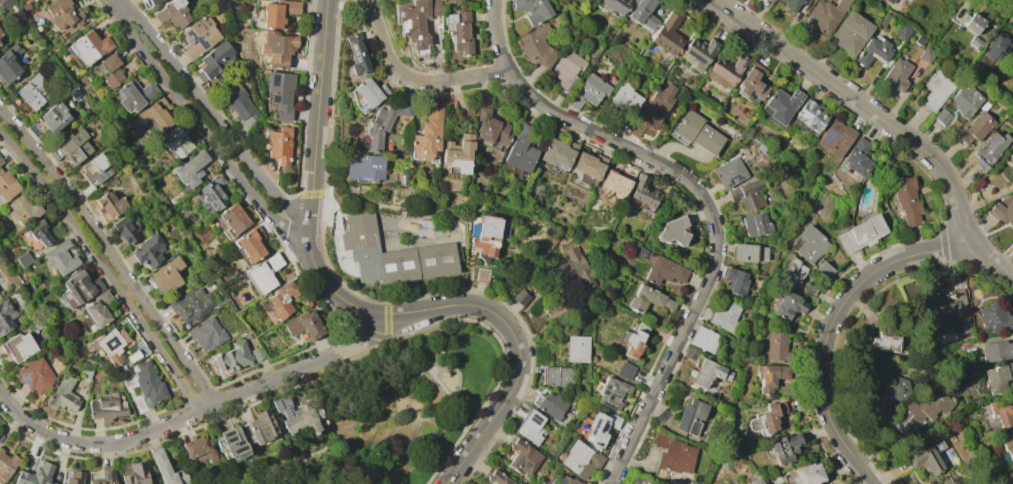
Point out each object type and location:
building: (38, 0)
building: (772, 0)
building: (889, 1)
building: (4, 3)
building: (148, 3)
building: (791, 4)
building: (616, 5)
road: (120, 6)
building: (532, 10)
building: (278, 12)
building: (172, 13)
building: (63, 14)
building: (643, 14)
building: (826, 14)
building: (884, 19)
building: (416, 20)
building: (972, 23)
building: (459, 30)
building: (1012, 30)
building: (851, 32)
building: (903, 32)
building: (0, 33)
building: (667, 34)
building: (198, 36)
building: (919, 41)
building: (975, 43)
building: (537, 46)
building: (997, 46)
building: (88, 47)
road: (56, 48)
building: (277, 48)
building: (874, 51)
building: (699, 52)
building: (356, 54)
building: (926, 55)
building: (215, 61)
building: (8, 64)
building: (566, 69)
building: (109, 70)
building: (725, 71)
building: (897, 74)
road: (414, 80)
building: (751, 83)
building: (935, 90)
building: (73, 91)
building: (588, 91)
building: (30, 92)
building: (281, 93)
building: (134, 94)
building: (367, 94)
building: (625, 99)
building: (964, 101)
building: (781, 104)
road: (862, 104)
building: (239, 105)
building: (656, 106)
building: (810, 115)
building: (942, 116)
building: (54, 117)
building: (151, 117)
road: (217, 119)
building: (383, 123)
building: (491, 127)
building: (975, 127)
building: (635, 128)
road: (206, 131)
building: (697, 132)
building: (427, 135)
building: (835, 138)
building: (177, 140)
building: (279, 145)
building: (71, 147)
building: (521, 150)
building: (988, 150)
building: (1012, 151)
building: (458, 152)
building: (557, 153)
building: (857, 157)
building: (0, 160)
building: (588, 165)
building: (364, 167)
building: (191, 168)
building: (94, 172)
building: (729, 173)
building: (616, 181)
building: (7, 186)
building: (214, 192)
building: (643, 194)
building: (748, 194)
road: (706, 198)
building: (906, 199)
building: (110, 204)
building: (22, 210)
building: (1002, 210)
building: (235, 219)
building: (755, 224)
building: (126, 230)
building: (673, 230)
building: (39, 233)
building: (484, 233)
building: (860, 233)
building: (250, 243)
building: (810, 244)
road: (945, 247)
building: (148, 251)
building: (638, 251)
road: (111, 252)
building: (748, 253)
building: (392, 254)
building: (61, 258)
building: (23, 259)
road: (991, 260)
building: (273, 261)
building: (576, 267)
road: (104, 269)
building: (824, 269)
building: (664, 270)
building: (792, 271)
building: (481, 274)
building: (166, 275)
building: (260, 277)
building: (735, 281)
building: (79, 289)
building: (808, 290)
building: (521, 297)
building: (281, 299)
building: (649, 300)
building: (306, 301)
building: (191, 304)
building: (787, 304)
building: (98, 309)
building: (951, 309)
road: (365, 311)
building: (722, 315)
building: (6, 316)
building: (994, 317)
building: (303, 324)
building: (206, 334)
building: (634, 339)
building: (704, 339)
building: (883, 342)
building: (776, 345)
building: (18, 346)
building: (116, 346)
building: (576, 348)
building: (996, 350)
building: (257, 353)
building: (690, 353)
road: (824, 354)
building: (233, 357)
building: (87, 370)
building: (625, 370)
road: (427, 371)
building: (709, 373)
building: (35, 375)
road: (362, 376)
building: (558, 376)
building: (770, 376)
building: (997, 377)
building: (148, 383)
building: (895, 389)
building: (610, 392)
road: (461, 393)
building: (63, 394)
road: (404, 398)
road: (389, 399)
park: (408, 403)
building: (138, 404)
building: (550, 404)
building: (107, 407)
building: (921, 410)
building: (1002, 410)
road: (192, 412)
building: (298, 415)
building: (662, 415)
building: (691, 417)
building: (768, 417)
road: (356, 423)
road: (9, 425)
building: (260, 427)
building: (531, 427)
building: (597, 427)
building: (231, 443)
building: (1008, 447)
building: (200, 448)
building: (784, 448)
road: (404, 452)
building: (673, 454)
building: (521, 456)
building: (925, 458)
building: (580, 459)
building: (7, 465)
building: (167, 469)
building: (134, 472)
building: (34, 474)
building: (807, 474)
building: (105, 476)
building: (495, 476)
building: (74, 477)
building: (567, 480)
building: (639, 480)
building: (755, 481)
building: (53, 483)

